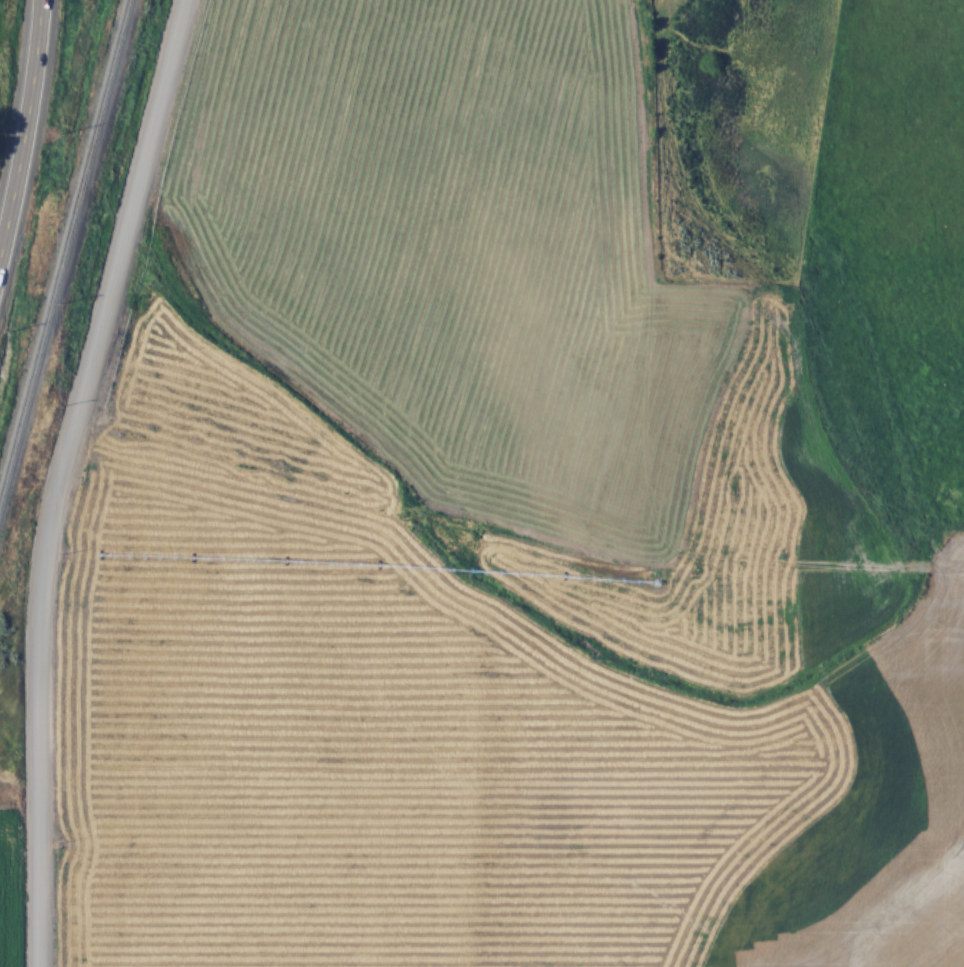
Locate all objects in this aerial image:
road: (26, 128)
crop: (421, 219)
railway: (66, 256)
road: (65, 476)

